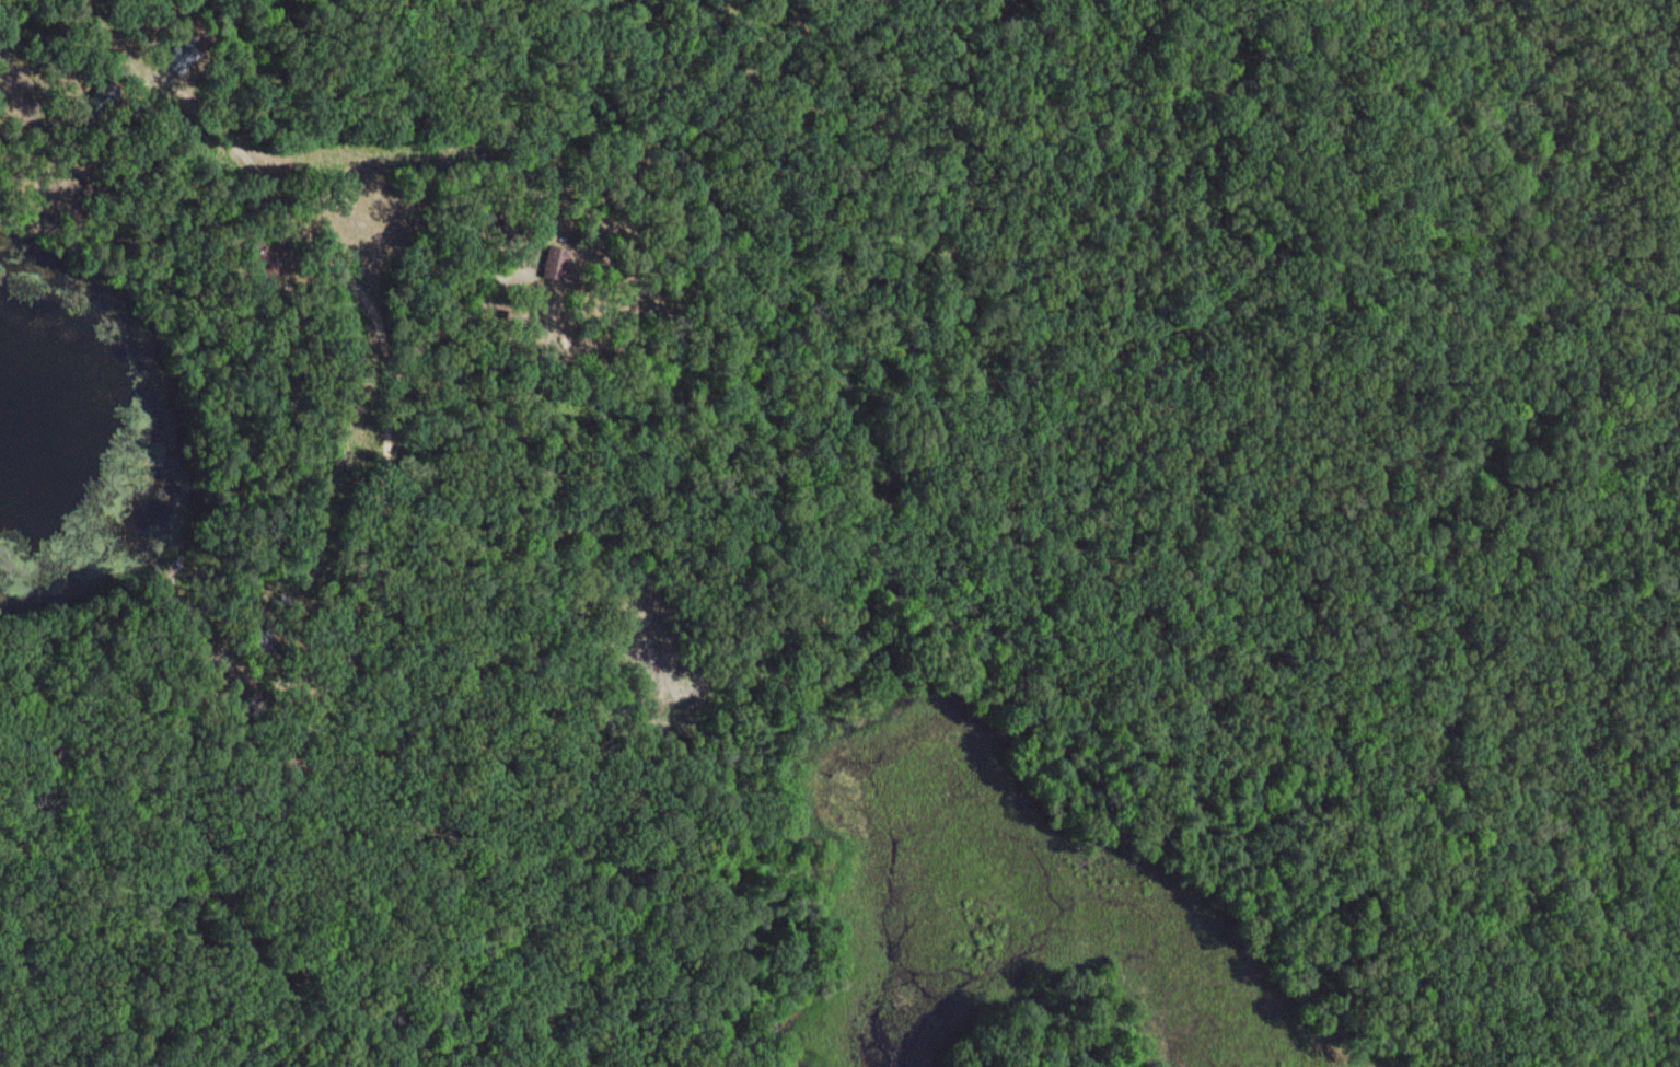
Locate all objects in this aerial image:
building: (181, 57)
building: (267, 260)
building: (554, 264)

